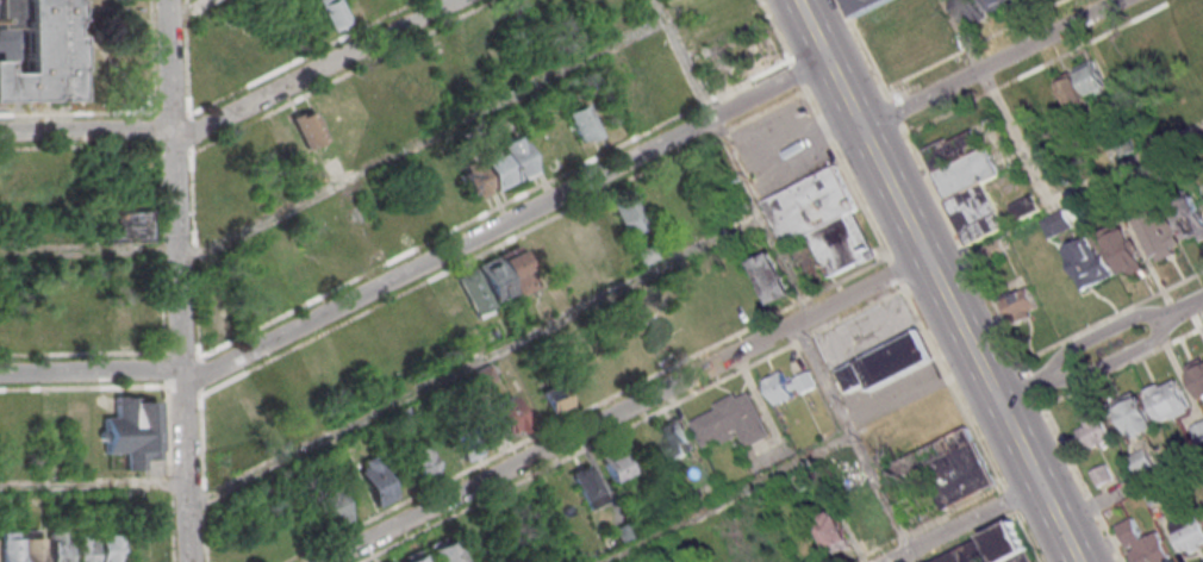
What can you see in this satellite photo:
building: (999, 4)
building: (864, 5)
road: (192, 10)
building: (334, 13)
road: (964, 33)
building: (1159, 45)
building: (35, 51)
building: (1137, 56)
road: (170, 62)
road: (989, 63)
road: (313, 70)
road: (796, 74)
road: (339, 75)
building: (1091, 76)
road: (249, 81)
building: (1060, 95)
road: (132, 110)
road: (172, 110)
building: (582, 123)
road: (87, 127)
building: (310, 129)
road: (188, 132)
road: (420, 139)
road: (95, 145)
road: (173, 146)
road: (731, 156)
building: (506, 162)
building: (473, 181)
building: (986, 191)
road: (175, 192)
road: (1059, 194)
building: (629, 214)
building: (1189, 217)
road: (505, 221)
building: (1055, 223)
building: (125, 224)
building: (822, 229)
building: (1160, 237)
road: (432, 238)
building: (586, 238)
road: (501, 242)
road: (89, 249)
building: (1121, 249)
building: (1086, 263)
road: (895, 271)
building: (772, 277)
road: (937, 281)
building: (484, 286)
building: (1020, 304)
road: (1188, 304)
building: (124, 323)
road: (163, 329)
road: (1099, 332)
road: (181, 352)
road: (474, 357)
road: (1112, 358)
building: (884, 363)
road: (667, 367)
road: (91, 369)
road: (182, 370)
building: (1196, 375)
road: (100, 386)
building: (787, 386)
road: (1020, 391)
road: (199, 392)
building: (554, 396)
building: (1168, 401)
building: (255, 406)
road: (623, 408)
building: (1136, 418)
building: (731, 421)
road: (630, 424)
building: (484, 427)
building: (133, 431)
building: (1197, 432)
building: (1093, 433)
building: (675, 438)
road: (853, 442)
building: (420, 460)
road: (987, 462)
building: (616, 466)
road: (169, 473)
building: (959, 473)
building: (1102, 474)
road: (202, 477)
building: (375, 480)
road: (93, 483)
road: (1130, 483)
building: (588, 487)
road: (722, 498)
road: (1008, 499)
building: (332, 507)
building: (1201, 518)
road: (188, 522)
road: (961, 522)
road: (991, 525)
building: (624, 532)
building: (1189, 532)
building: (834, 535)
building: (1142, 543)
building: (58, 544)
building: (83, 545)
building: (10, 547)
building: (35, 548)
building: (108, 548)
building: (993, 548)
building: (445, 550)
building: (413, 557)

